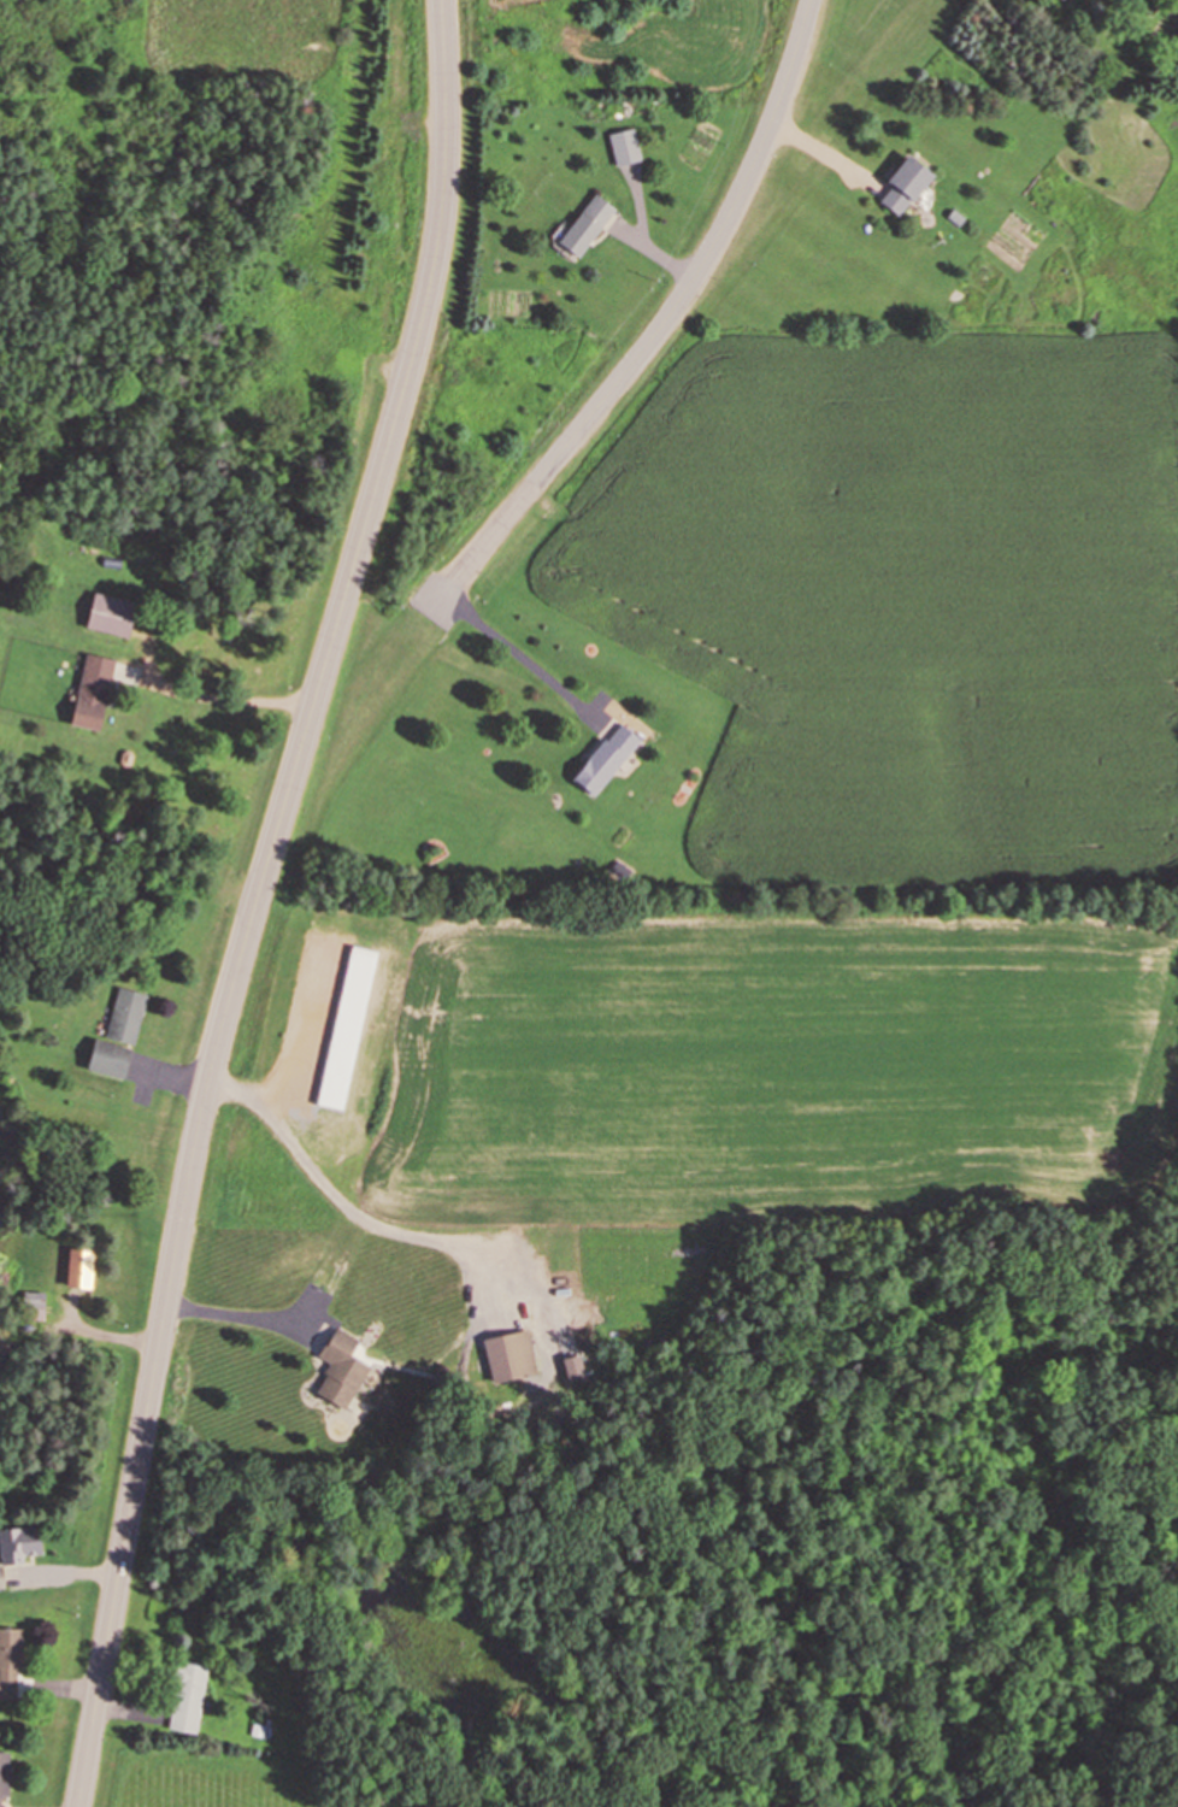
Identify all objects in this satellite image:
building: (625, 146)
building: (905, 184)
building: (585, 224)
road: (661, 322)
building: (110, 614)
building: (92, 691)
building: (609, 752)
road: (254, 899)
building: (125, 1016)
building: (107, 1058)
building: (79, 1267)
building: (33, 1306)
building: (510, 1356)
building: (340, 1370)
building: (18, 1544)
building: (1, 1579)
building: (10, 1662)
building: (187, 1697)
building: (4, 1777)

